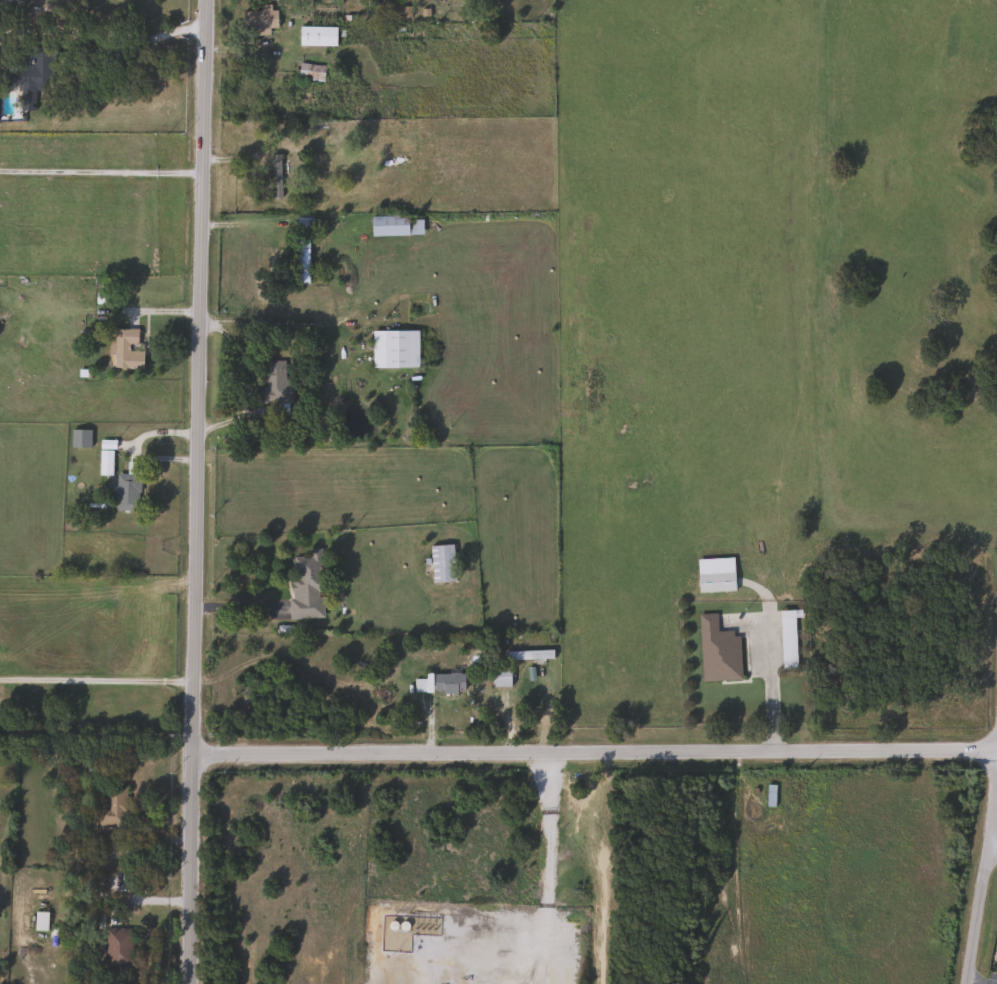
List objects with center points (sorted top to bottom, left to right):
building: (258, 20)
building: (316, 36)
road: (101, 37)
building: (309, 71)
building: (34, 73)
road: (88, 75)
road: (99, 171)
building: (304, 223)
building: (395, 224)
building: (302, 259)
road: (276, 323)
building: (125, 347)
building: (394, 348)
building: (277, 383)
building: (105, 462)
building: (124, 488)
road: (195, 491)
building: (441, 563)
building: (306, 571)
building: (715, 574)
road: (240, 604)
building: (787, 638)
building: (718, 651)
road: (97, 672)
building: (501, 676)
road: (772, 679)
building: (440, 682)
road: (524, 692)
road: (594, 751)
building: (111, 808)
road: (994, 849)
road: (983, 897)
building: (424, 925)
building: (116, 947)

